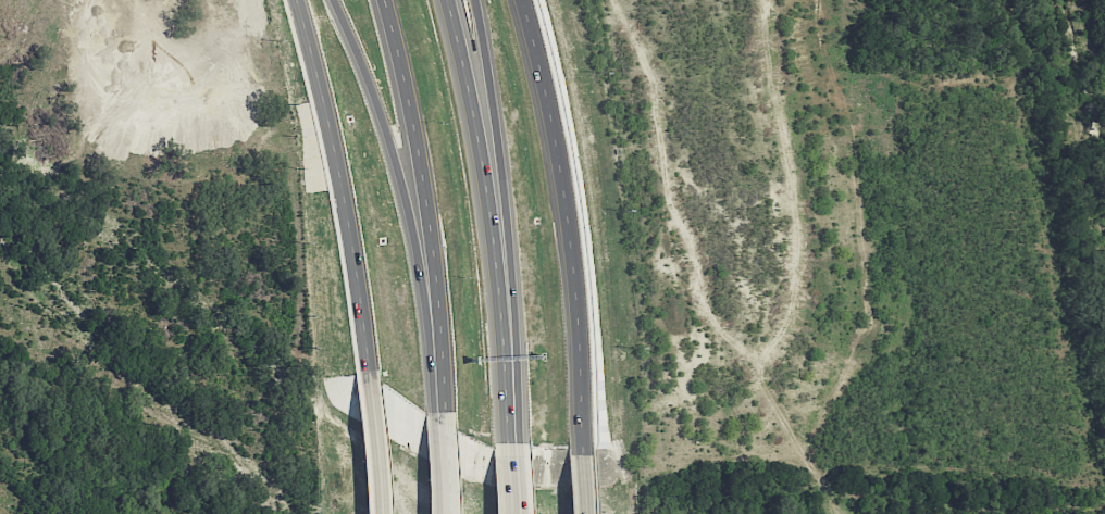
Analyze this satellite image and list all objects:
road: (385, 135)
road: (408, 137)
road: (339, 183)
road: (487, 206)
road: (513, 208)
road: (562, 226)
road: (432, 343)
road: (507, 438)
road: (372, 441)
road: (436, 462)
road: (508, 486)
road: (580, 486)

